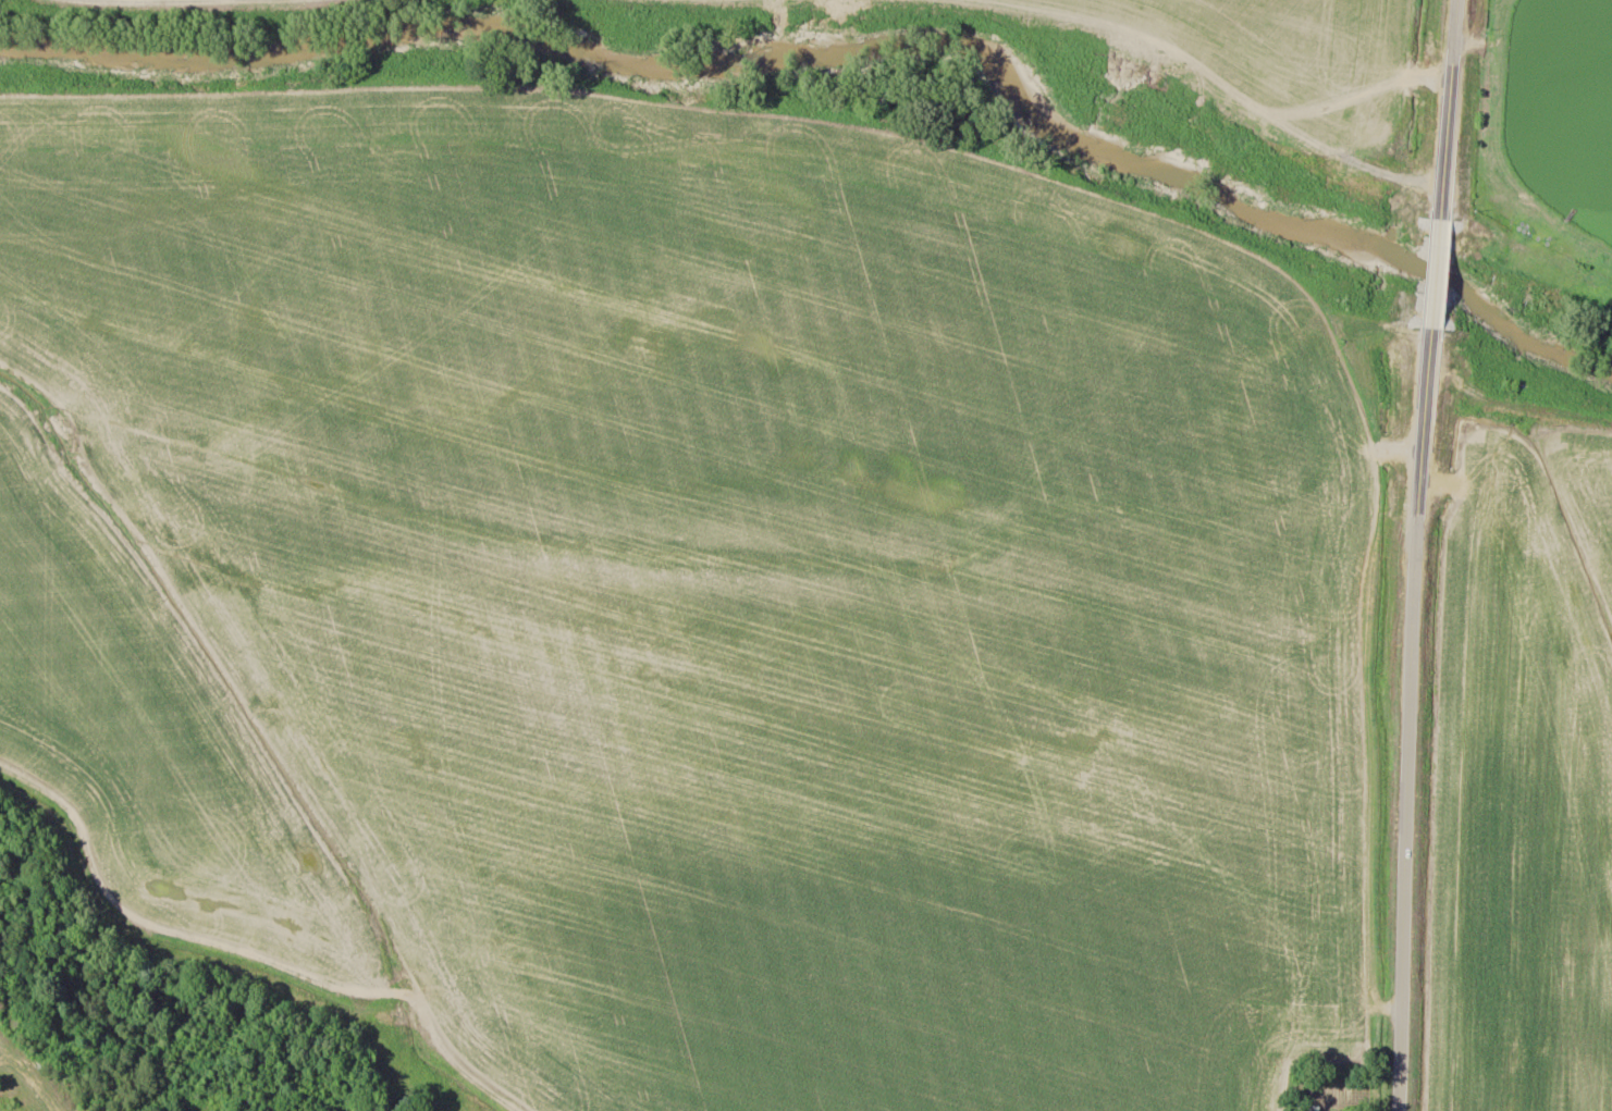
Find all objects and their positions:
road: (1023, 26)
road: (1447, 116)
road: (1437, 274)
road: (1408, 712)

